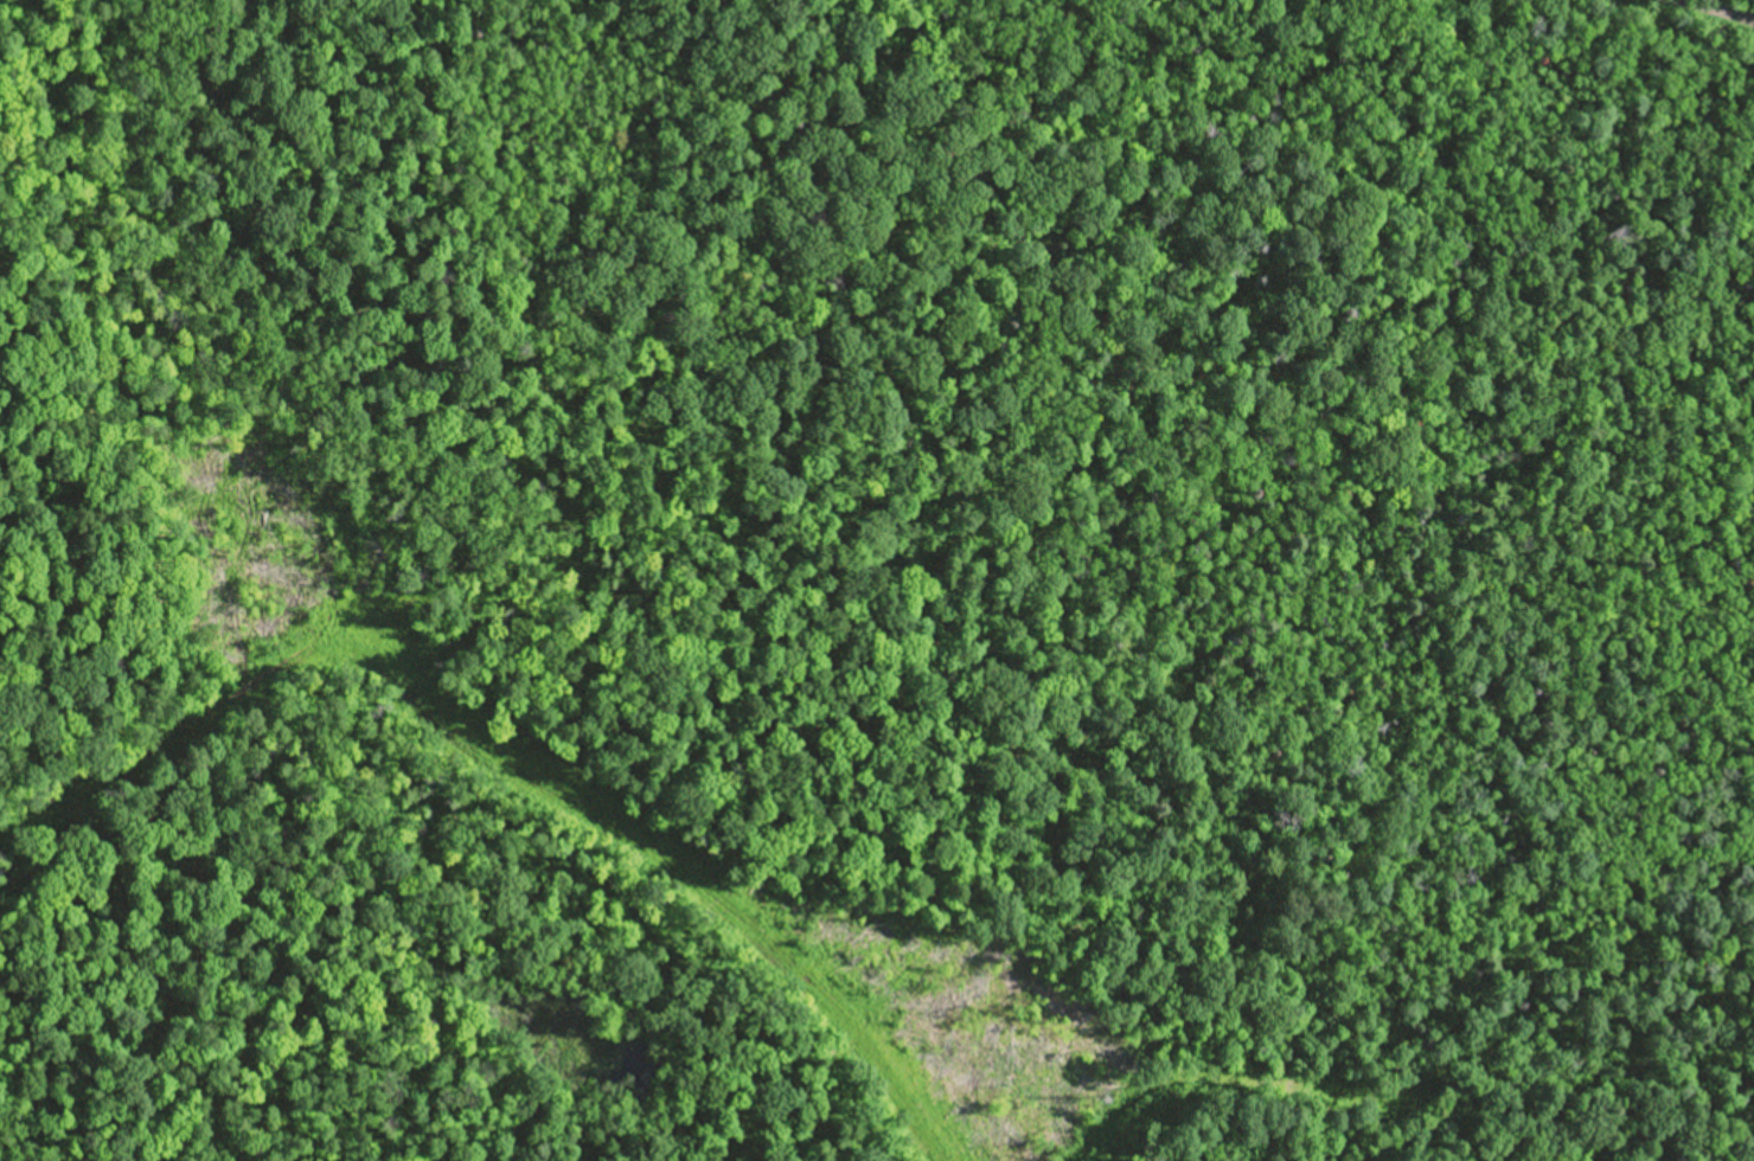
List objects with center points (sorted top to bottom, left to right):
road: (1728, 6)

